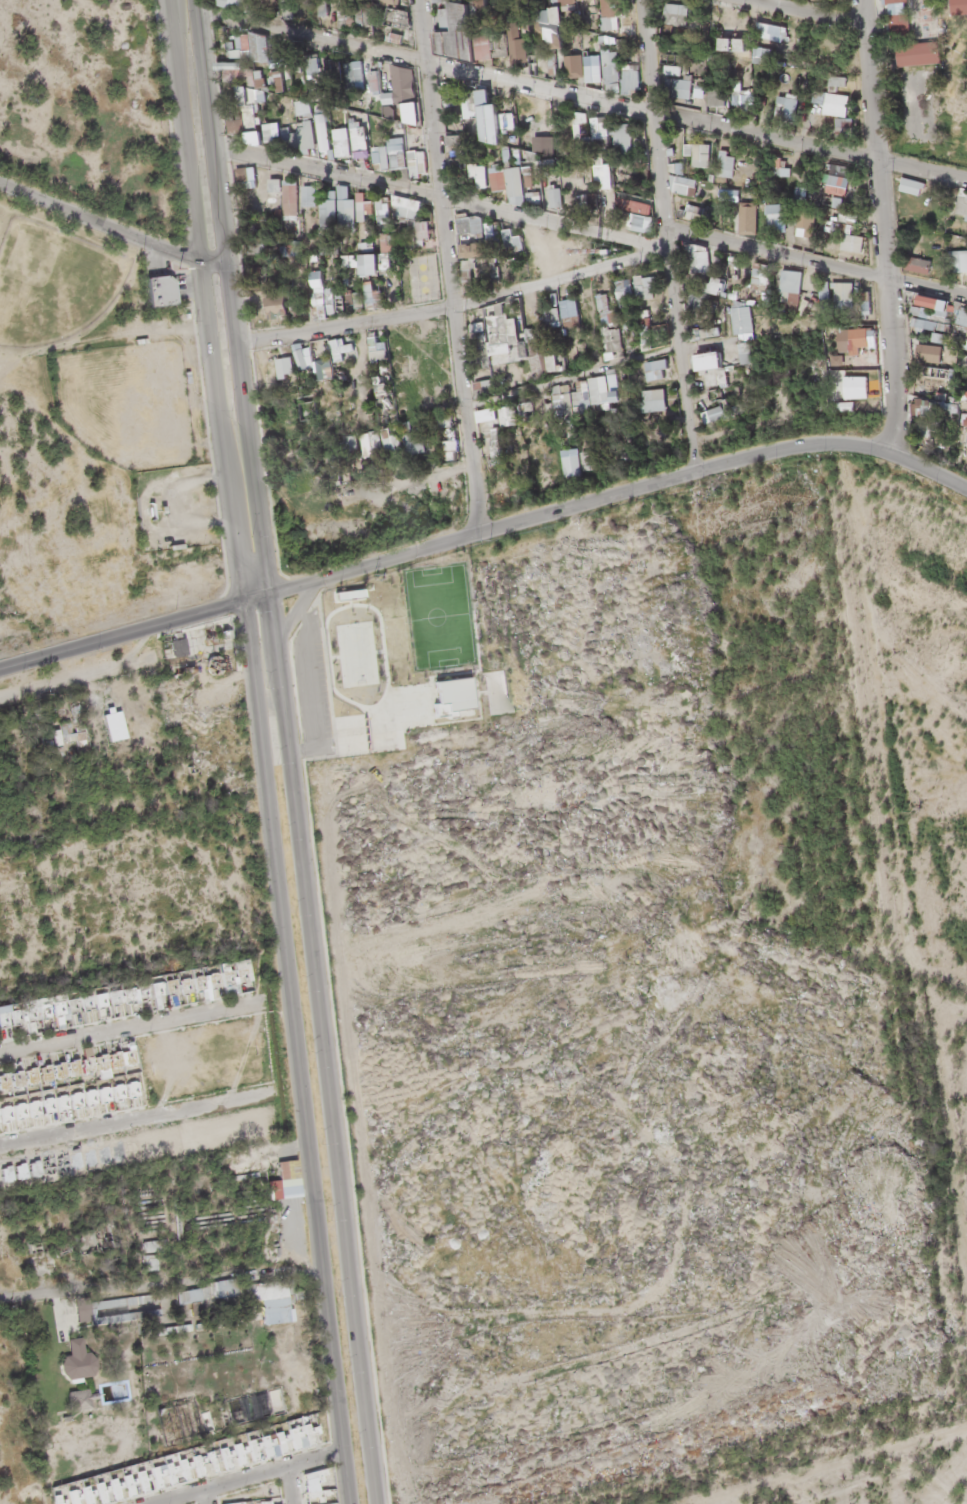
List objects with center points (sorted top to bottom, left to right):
building: (958, 4)
road: (808, 11)
building: (916, 49)
road: (535, 85)
road: (920, 169)
building: (833, 184)
road: (439, 197)
road: (880, 230)
road: (664, 236)
road: (775, 252)
road: (926, 288)
road: (447, 306)
road: (593, 369)
road: (485, 533)

